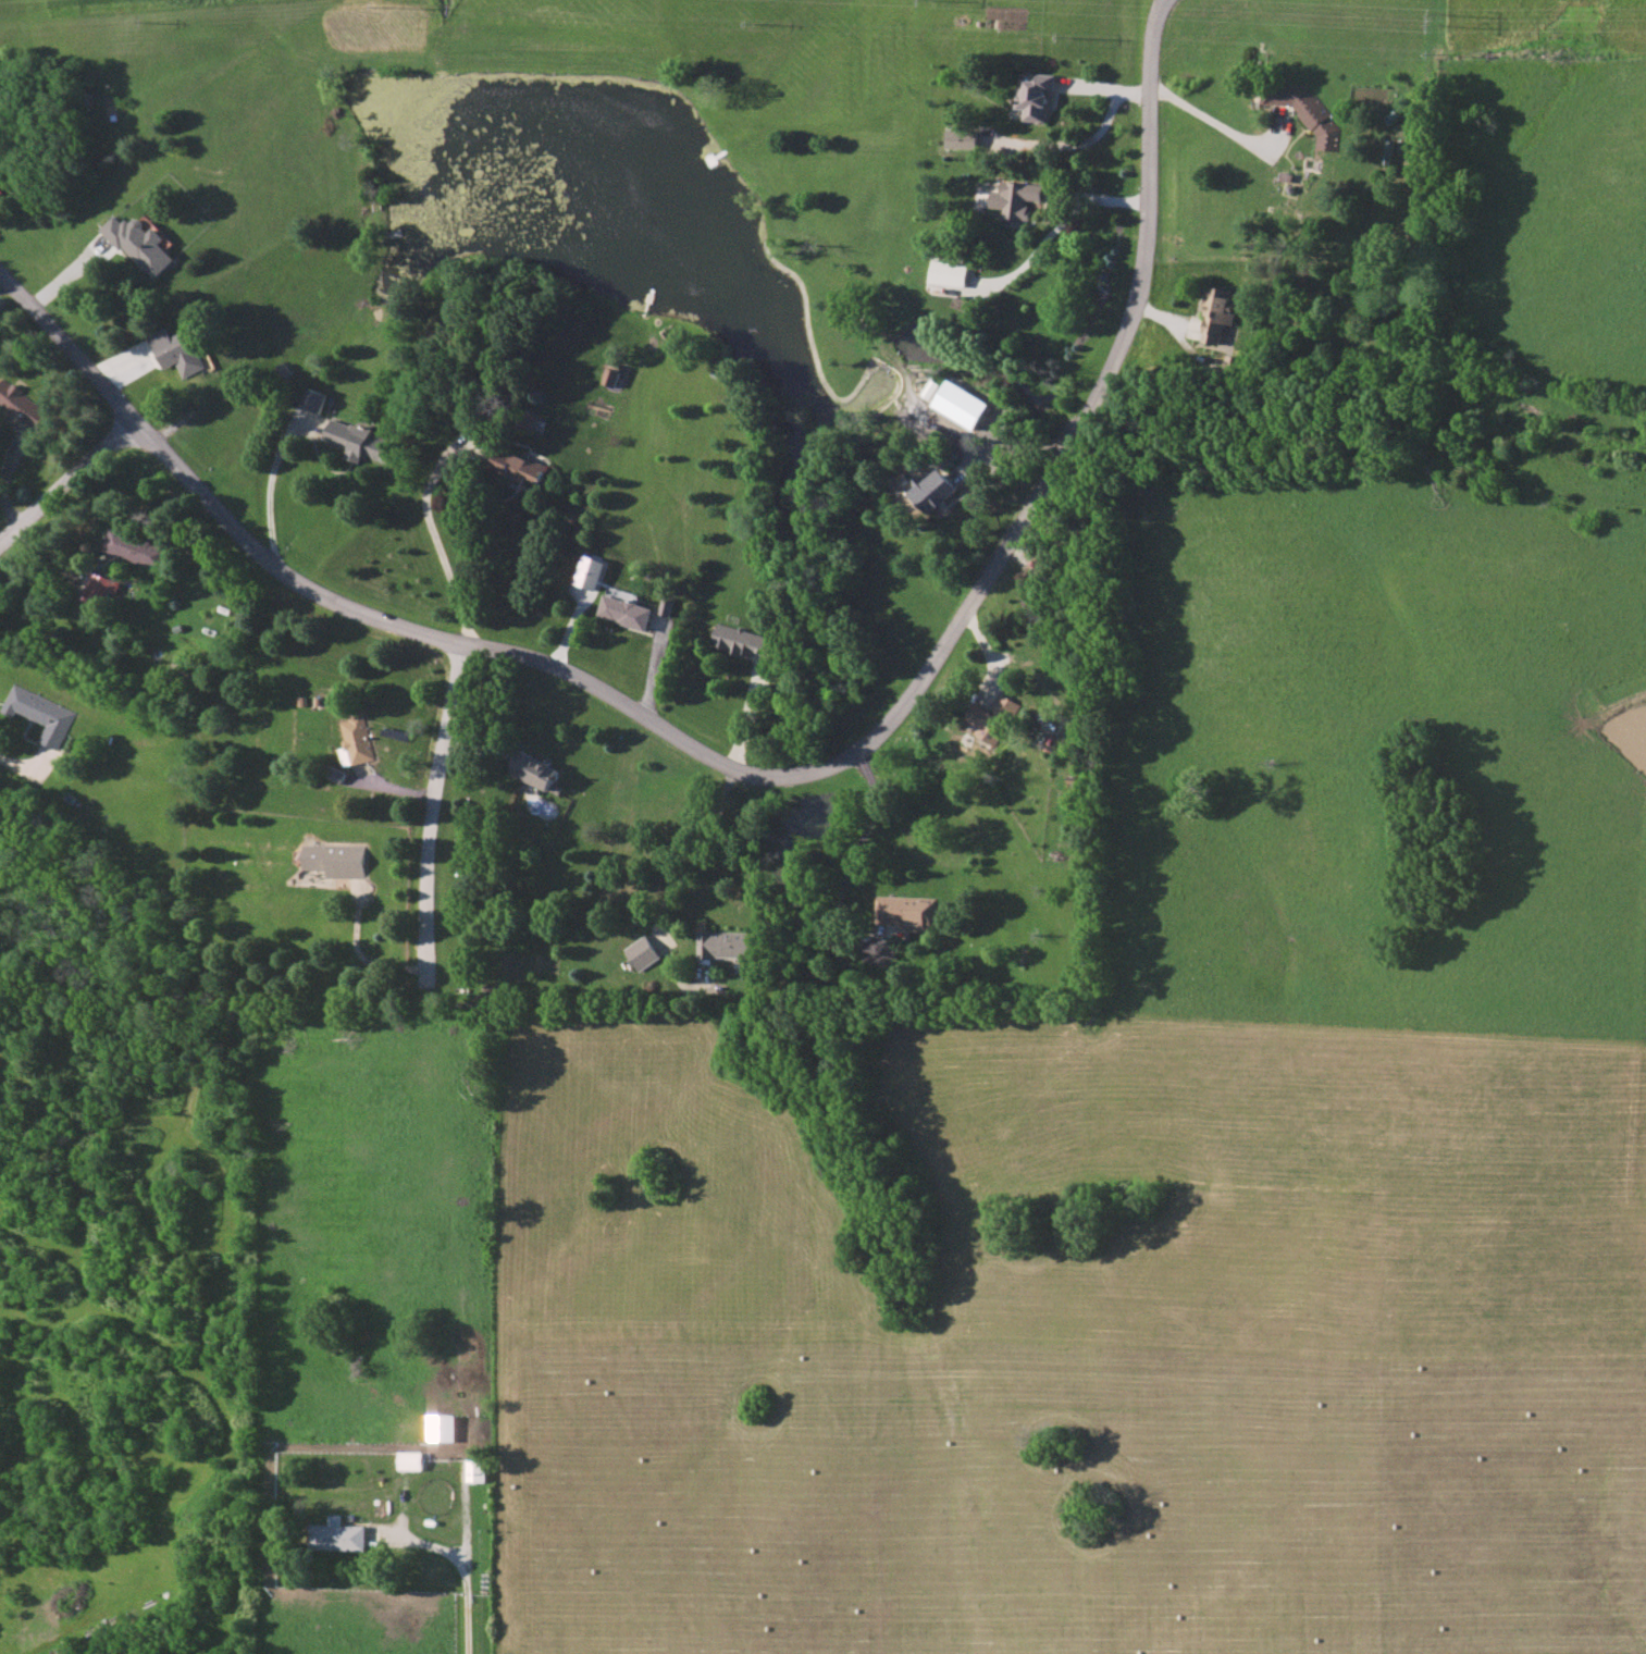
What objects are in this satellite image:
power tower: (1436, 14)
building: (1036, 97)
building: (1309, 112)
road: (1212, 119)
road: (1094, 135)
building: (963, 138)
building: (0, 145)
building: (1388, 151)
building: (1017, 198)
road: (1066, 222)
building: (140, 244)
building: (951, 273)
building: (1218, 314)
building: (175, 351)
building: (614, 377)
building: (935, 388)
building: (314, 399)
building: (22, 404)
building: (964, 404)
building: (529, 421)
building: (360, 441)
road: (1018, 445)
building: (518, 467)
road: (71, 487)
building: (936, 490)
road: (435, 542)
building: (590, 572)
building: (100, 590)
building: (667, 606)
building: (624, 612)
building: (744, 640)
building: (44, 714)
building: (993, 717)
building: (357, 741)
road: (14, 767)
building: (536, 770)
road: (765, 775)
road: (432, 813)
road: (856, 859)
building: (336, 860)
road: (675, 885)
building: (906, 910)
building: (723, 945)
building: (641, 952)
road: (360, 955)
building: (443, 1428)
building: (411, 1460)
building: (478, 1470)
building: (339, 1535)
road: (467, 1595)

